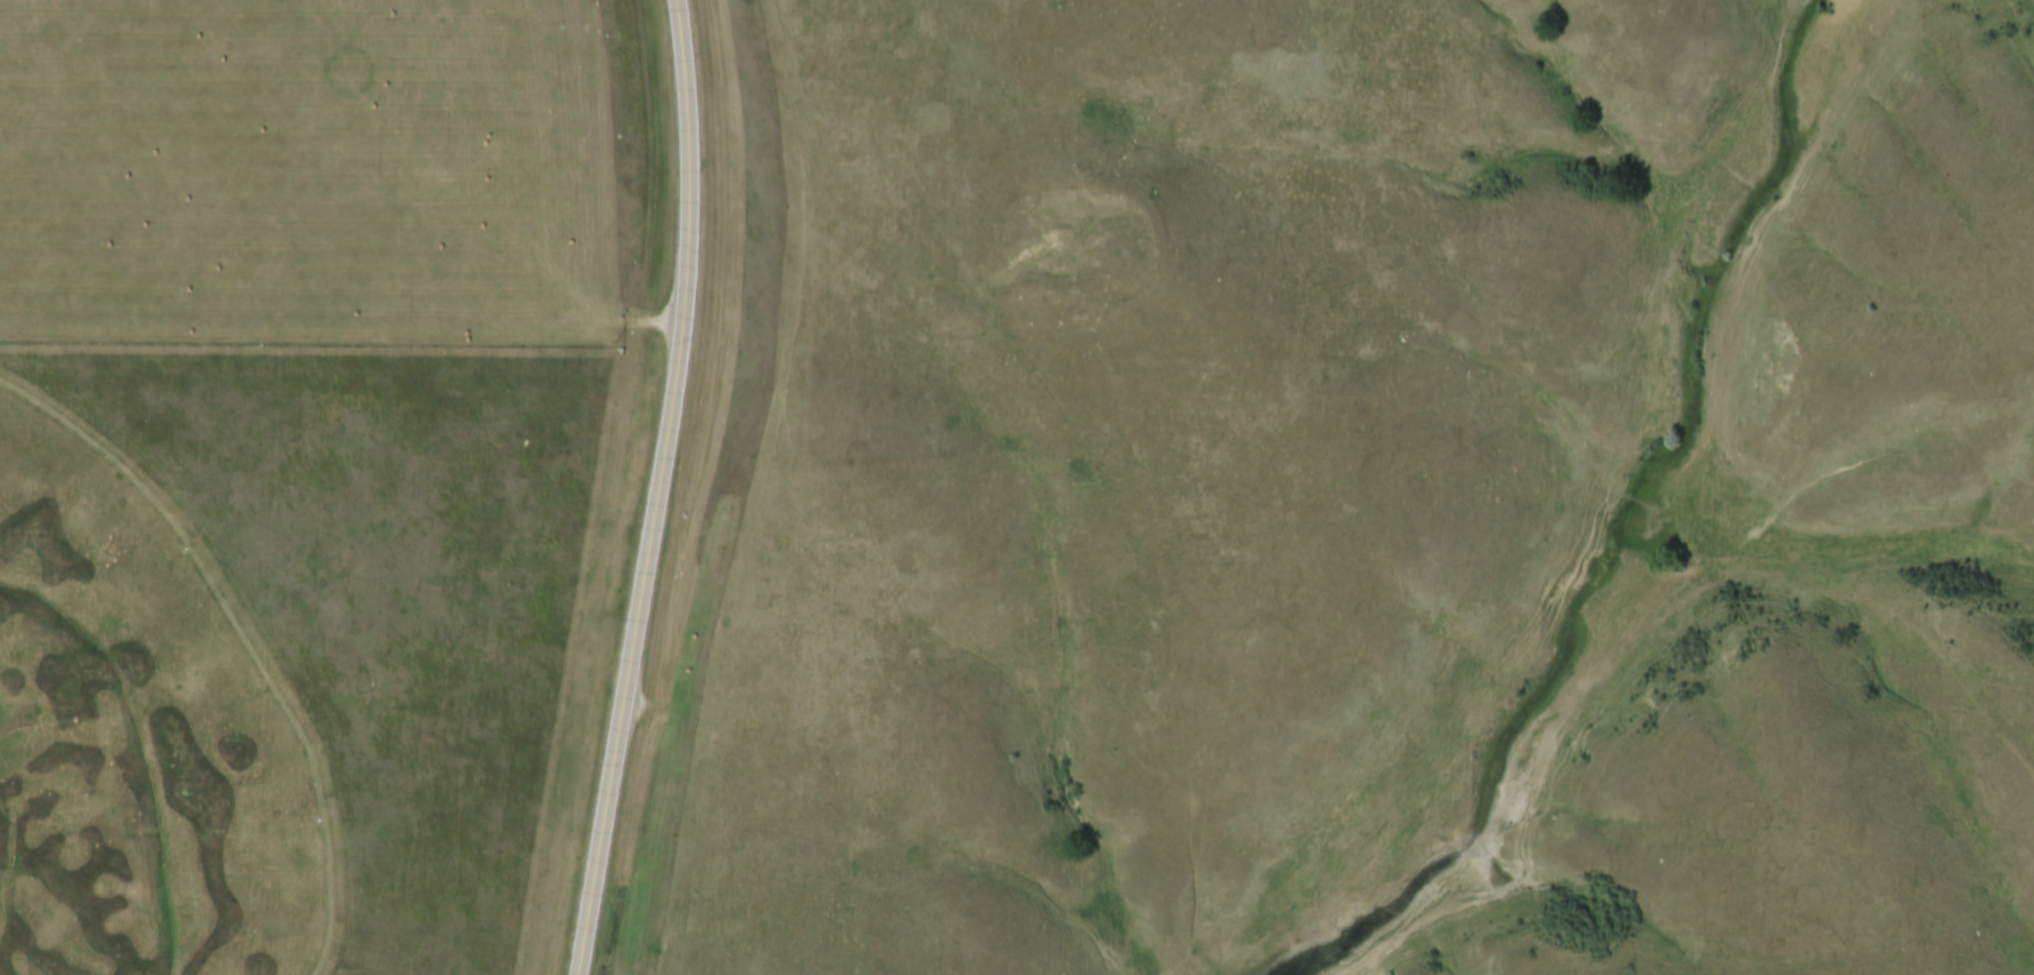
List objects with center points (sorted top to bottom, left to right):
road: (663, 489)
road: (236, 641)

